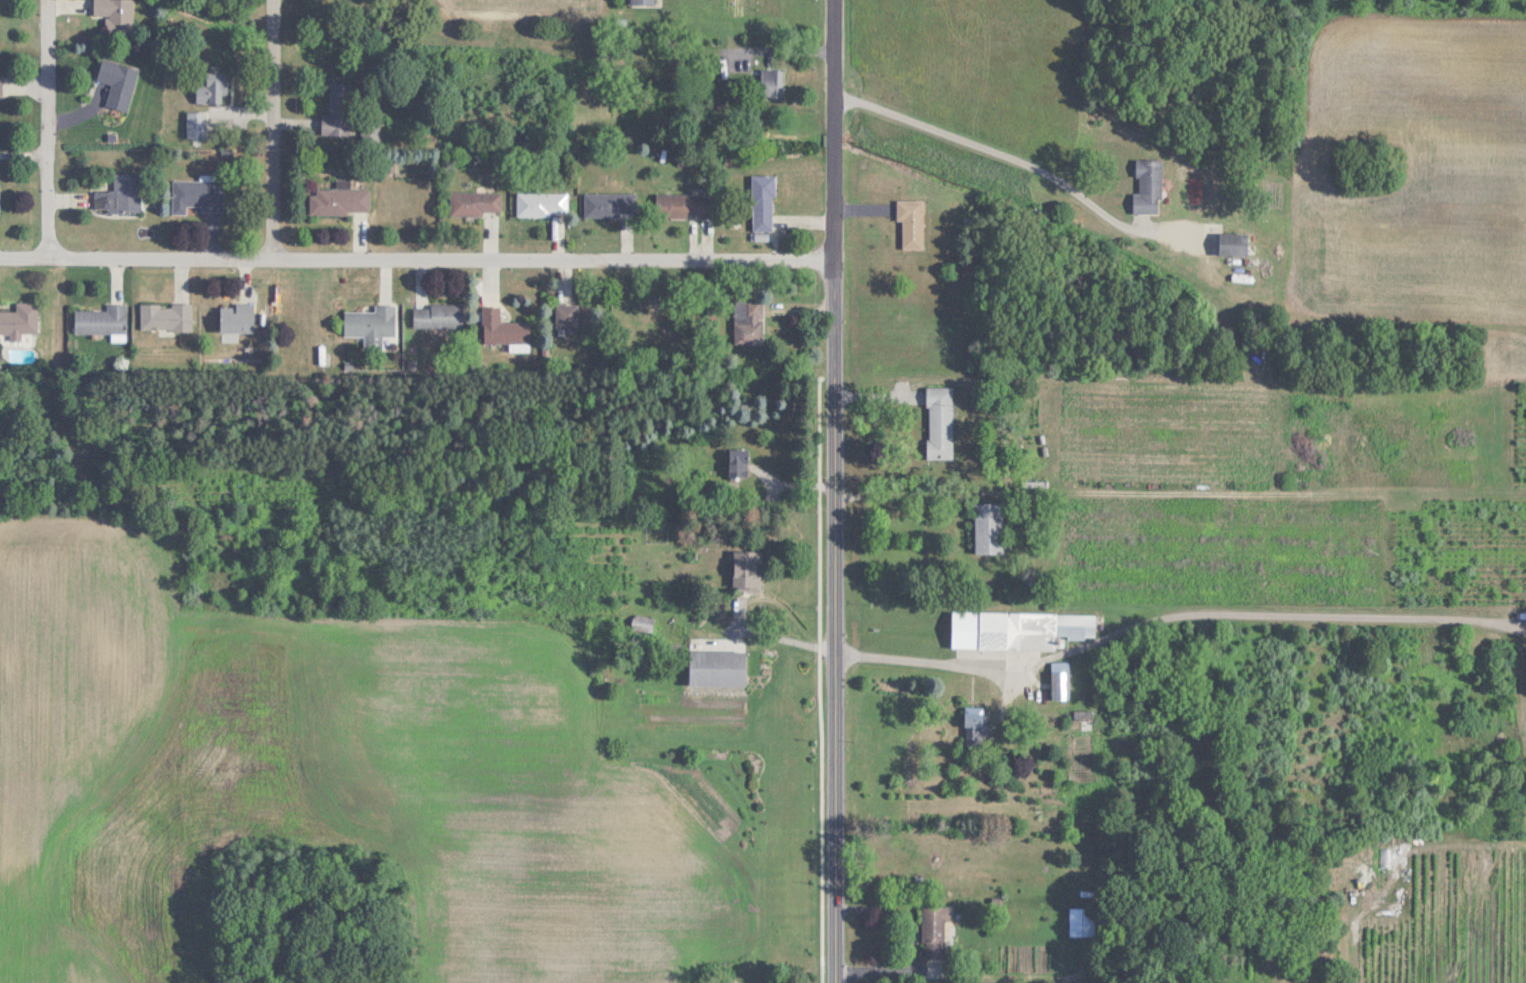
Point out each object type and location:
building: (641, 2)
building: (116, 16)
road: (272, 79)
building: (772, 82)
building: (116, 83)
building: (0, 85)
building: (210, 89)
building: (338, 110)
building: (195, 125)
road: (42, 135)
road: (992, 148)
building: (1148, 186)
building: (120, 195)
building: (196, 195)
building: (342, 200)
building: (475, 202)
building: (541, 203)
building: (609, 203)
building: (763, 203)
building: (686, 205)
road: (270, 213)
building: (911, 222)
building: (1233, 243)
road: (420, 265)
building: (440, 315)
building: (567, 315)
building: (165, 316)
building: (235, 317)
building: (19, 320)
building: (101, 320)
building: (370, 321)
building: (748, 322)
building: (502, 327)
building: (939, 421)
building: (738, 462)
road: (841, 491)
building: (988, 527)
building: (746, 569)
road: (1179, 615)
building: (1017, 629)
road: (776, 636)
building: (717, 667)
building: (1061, 685)
building: (977, 729)
building: (1082, 922)
building: (935, 930)
road: (916, 942)

